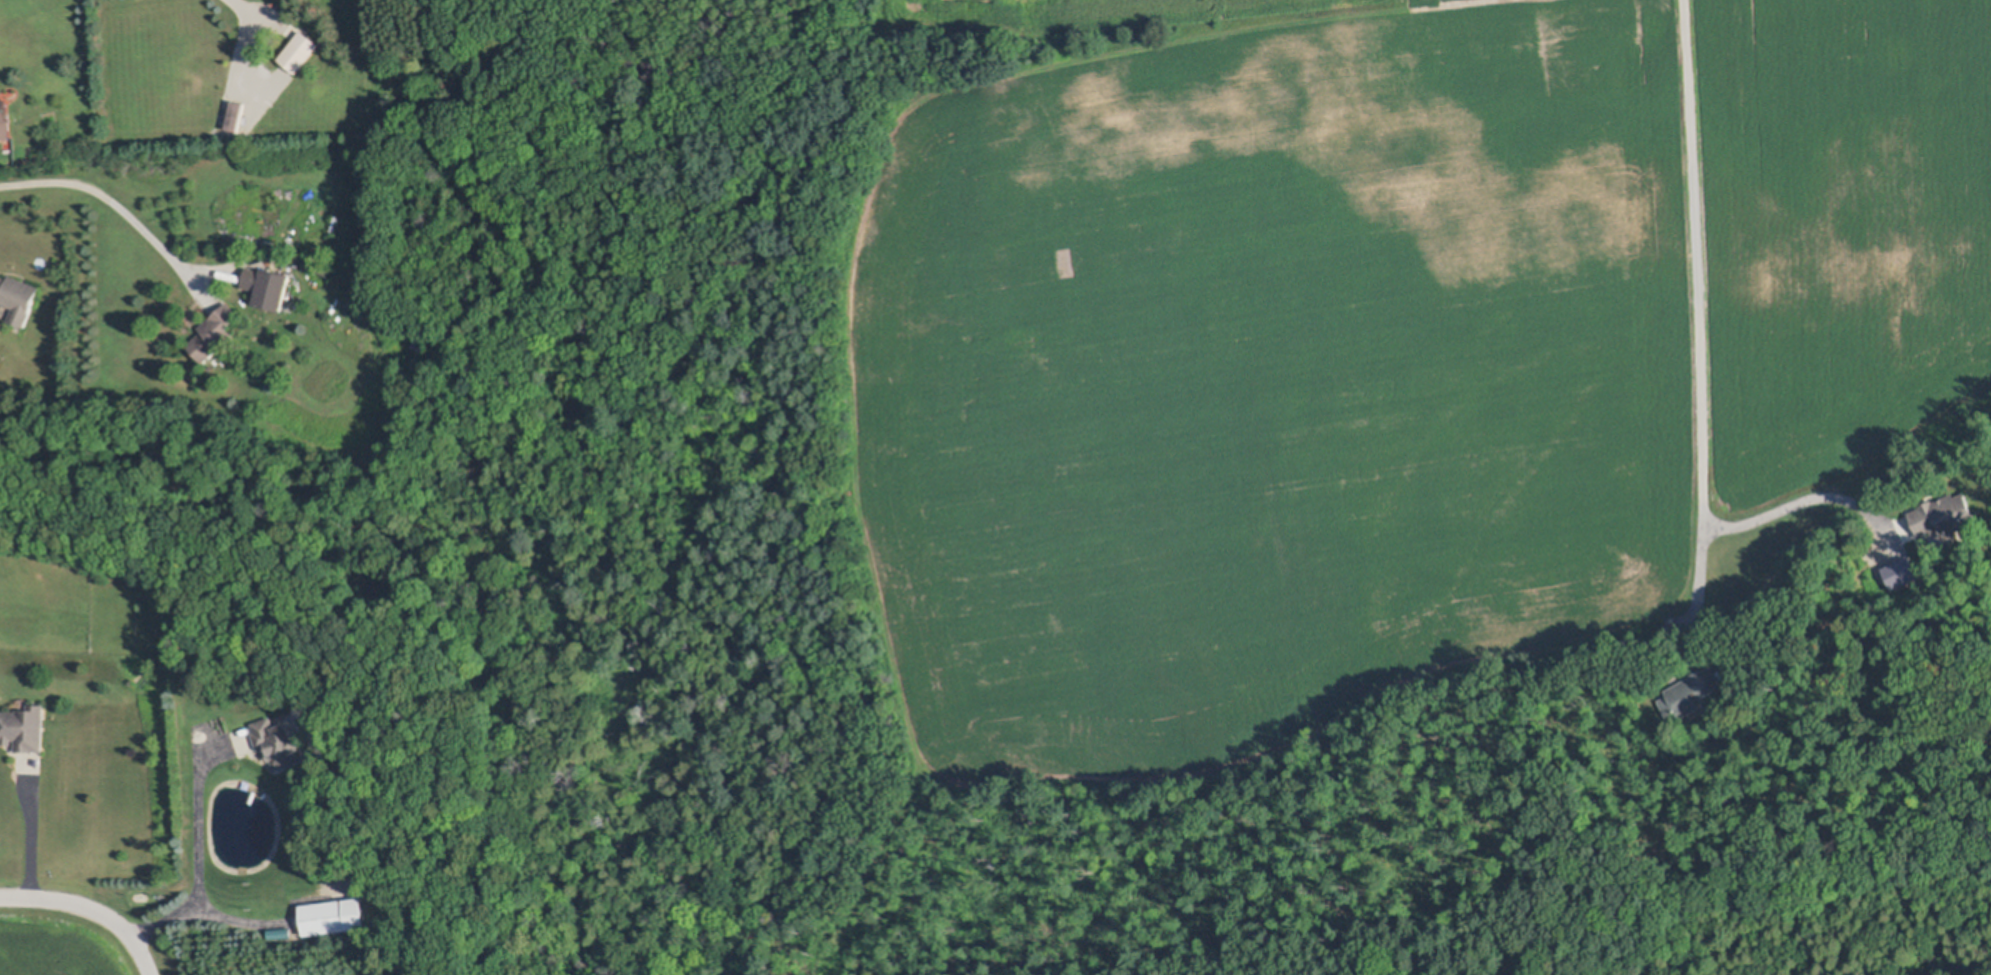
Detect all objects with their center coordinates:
road: (248, 41)
building: (300, 52)
building: (236, 116)
building: (5, 119)
road: (120, 210)
building: (327, 267)
building: (255, 278)
building: (19, 297)
road: (1697, 331)
building: (215, 333)
road: (1813, 499)
building: (1944, 514)
building: (1904, 572)
building: (1692, 694)
building: (25, 728)
building: (280, 743)
road: (31, 829)
road: (200, 857)
road: (93, 905)
road: (235, 914)
building: (336, 916)
building: (282, 930)
river: (1976, 971)

